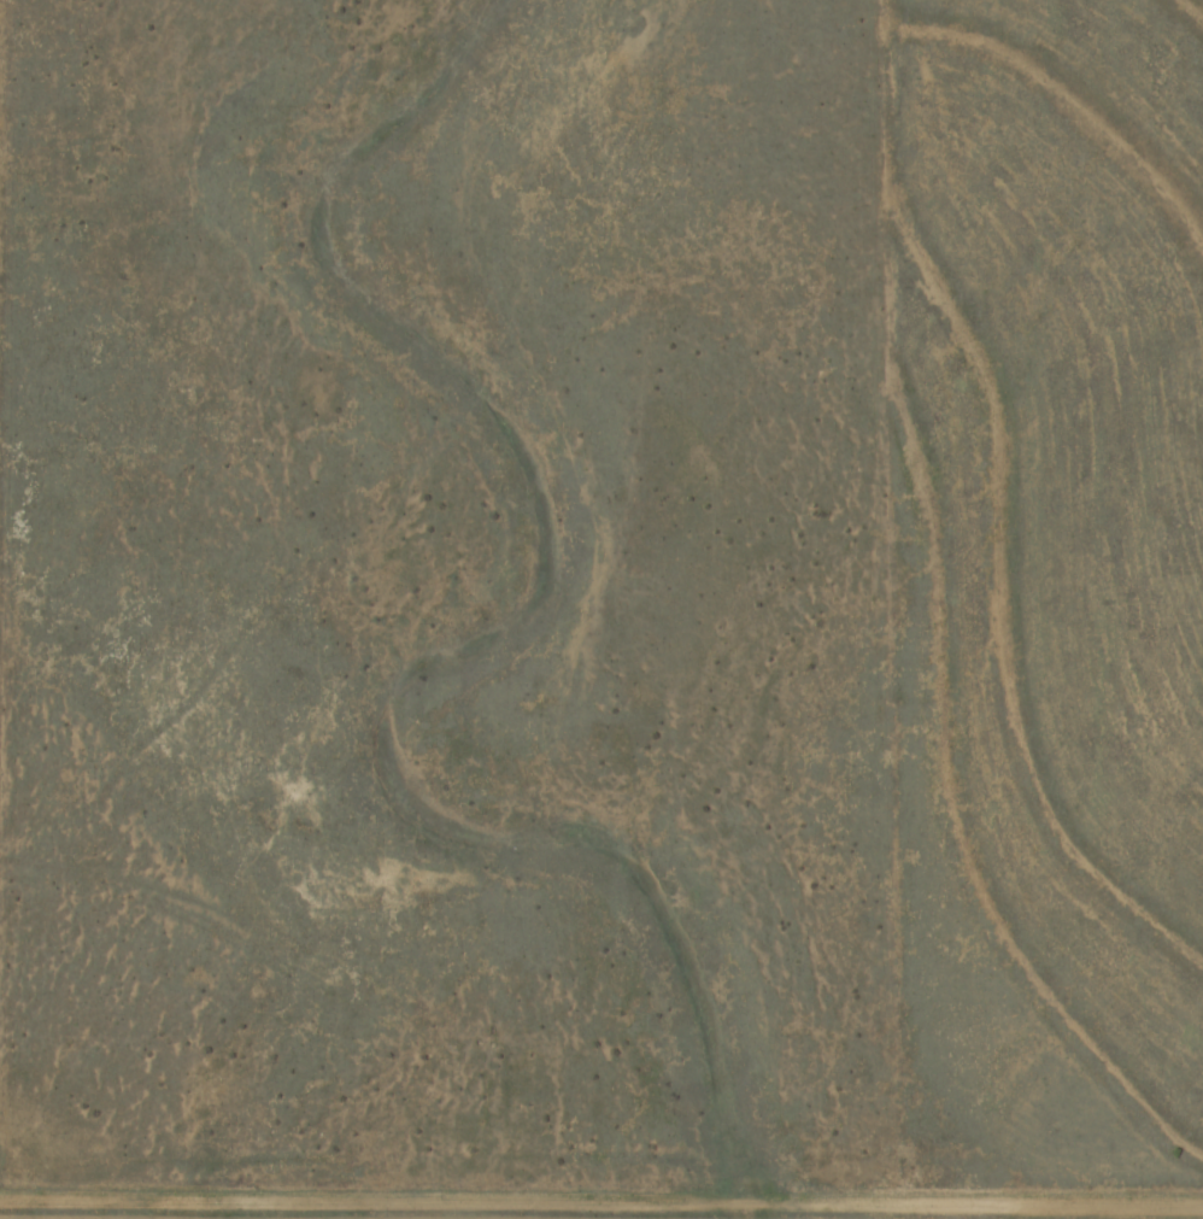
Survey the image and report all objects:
road: (600, 1189)

